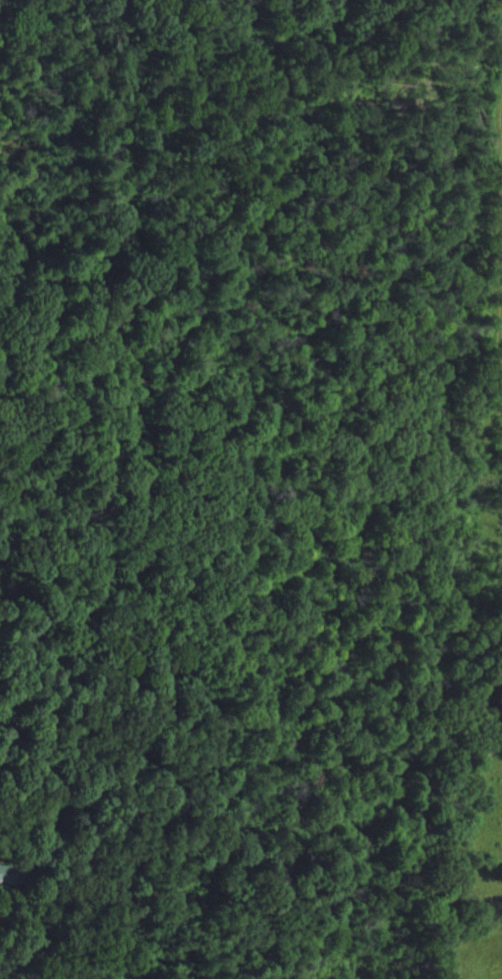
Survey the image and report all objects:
building: (5, 875)

